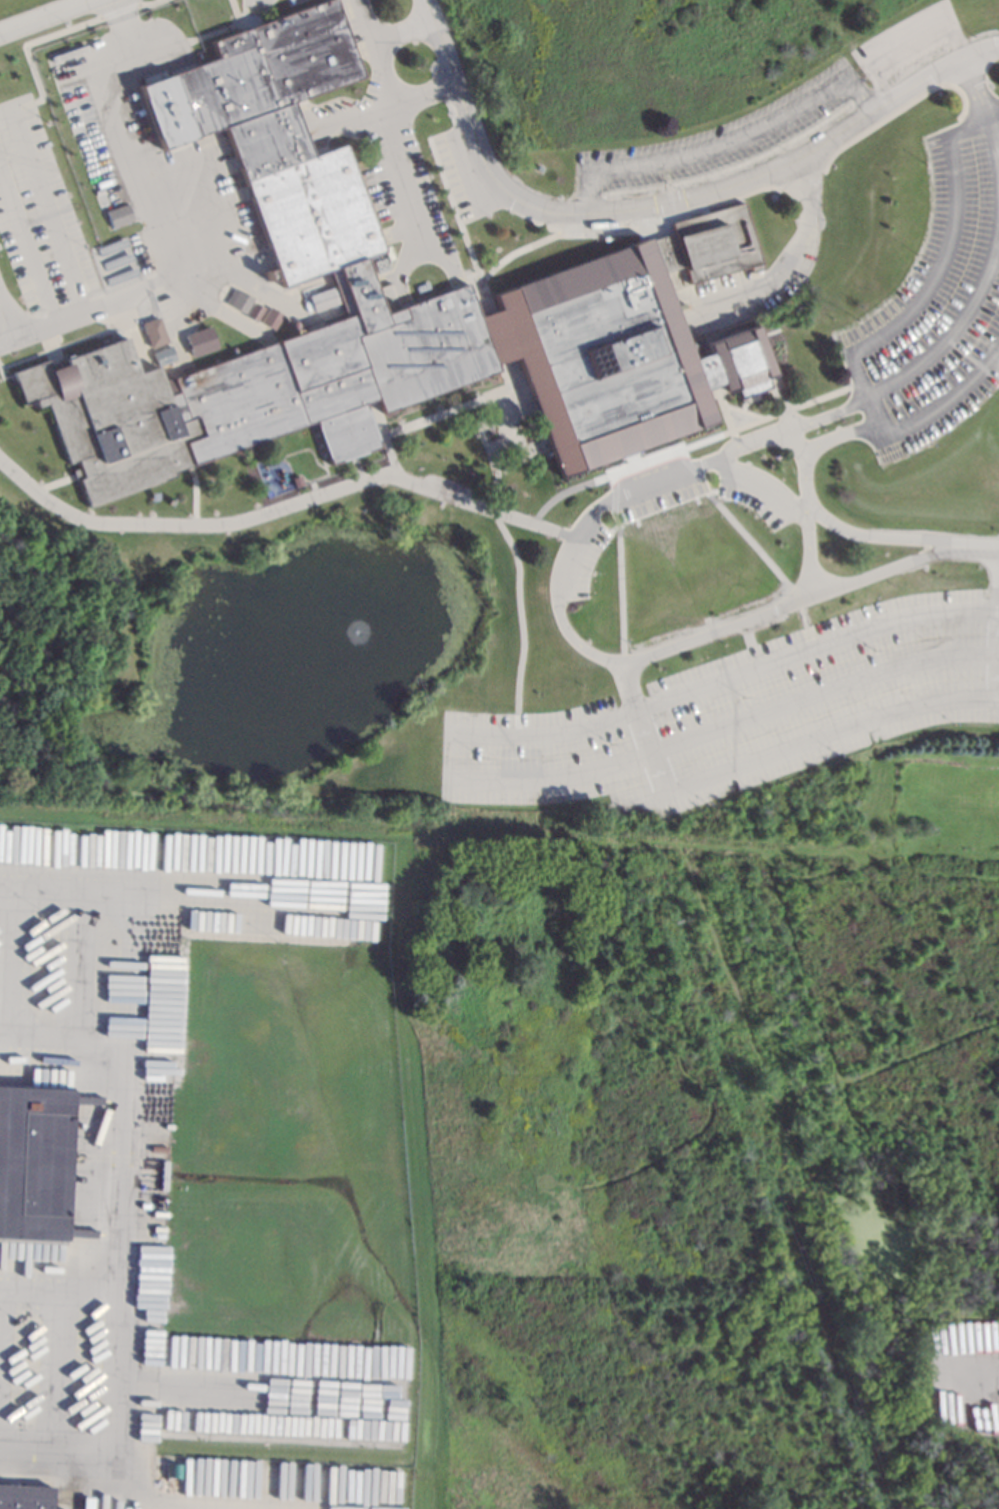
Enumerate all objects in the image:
road: (43, 15)
road: (404, 29)
road: (907, 42)
road: (390, 107)
parking lot: (772, 110)
road: (114, 125)
road: (393, 125)
road: (728, 142)
parking lot: (417, 163)
road: (665, 202)
road: (46, 204)
building: (119, 215)
parking lot: (36, 224)
building: (607, 238)
road: (27, 244)
road: (991, 248)
building: (682, 253)
road: (942, 259)
road: (796, 260)
road: (165, 280)
building: (321, 299)
building: (239, 301)
parking lot: (936, 303)
building: (254, 311)
building: (270, 317)
road: (6, 319)
building: (153, 332)
building: (200, 341)
building: (163, 355)
road: (940, 403)
road: (871, 409)
road: (786, 420)
road: (690, 443)
road: (714, 457)
building: (295, 480)
road: (802, 483)
road: (282, 506)
road: (825, 517)
road: (732, 524)
parking lot: (589, 532)
road: (979, 546)
road: (616, 566)
road: (998, 611)
road: (996, 618)
road: (520, 619)
road: (711, 631)
road: (813, 647)
road: (993, 676)
road: (629, 685)
road: (821, 690)
road: (995, 700)
parking lot: (741, 710)
road: (801, 745)
road: (650, 750)
road: (451, 763)
road: (188, 890)
road: (11, 958)
road: (87, 962)
road: (103, 1156)
building: (33, 1164)
road: (121, 1164)
road: (57, 1365)
road: (261, 1388)
road: (113, 1423)
building: (25, 1466)
road: (122, 1485)
building: (24, 1496)

